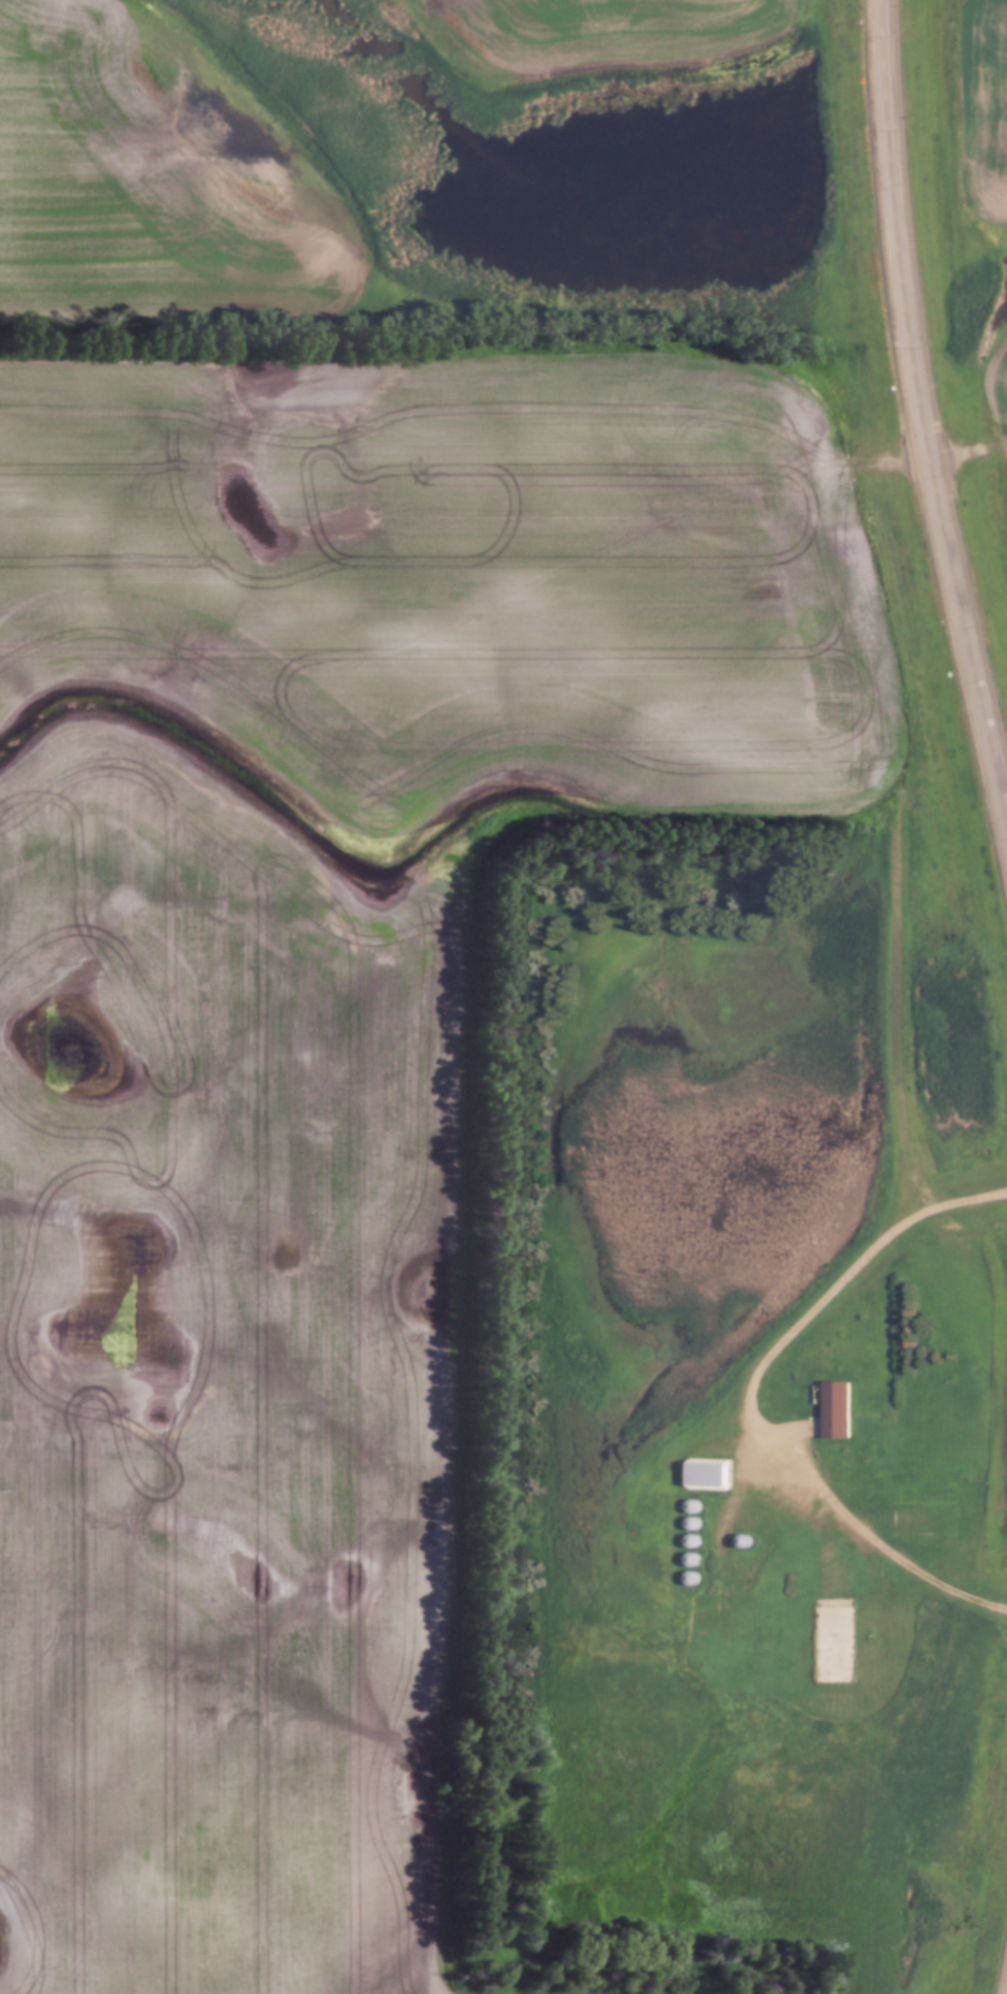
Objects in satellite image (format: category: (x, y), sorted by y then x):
road: (924, 407)
road: (901, 1001)
road: (750, 1398)
building: (838, 1410)
building: (708, 1474)
building: (744, 1541)
building: (820, 1614)

